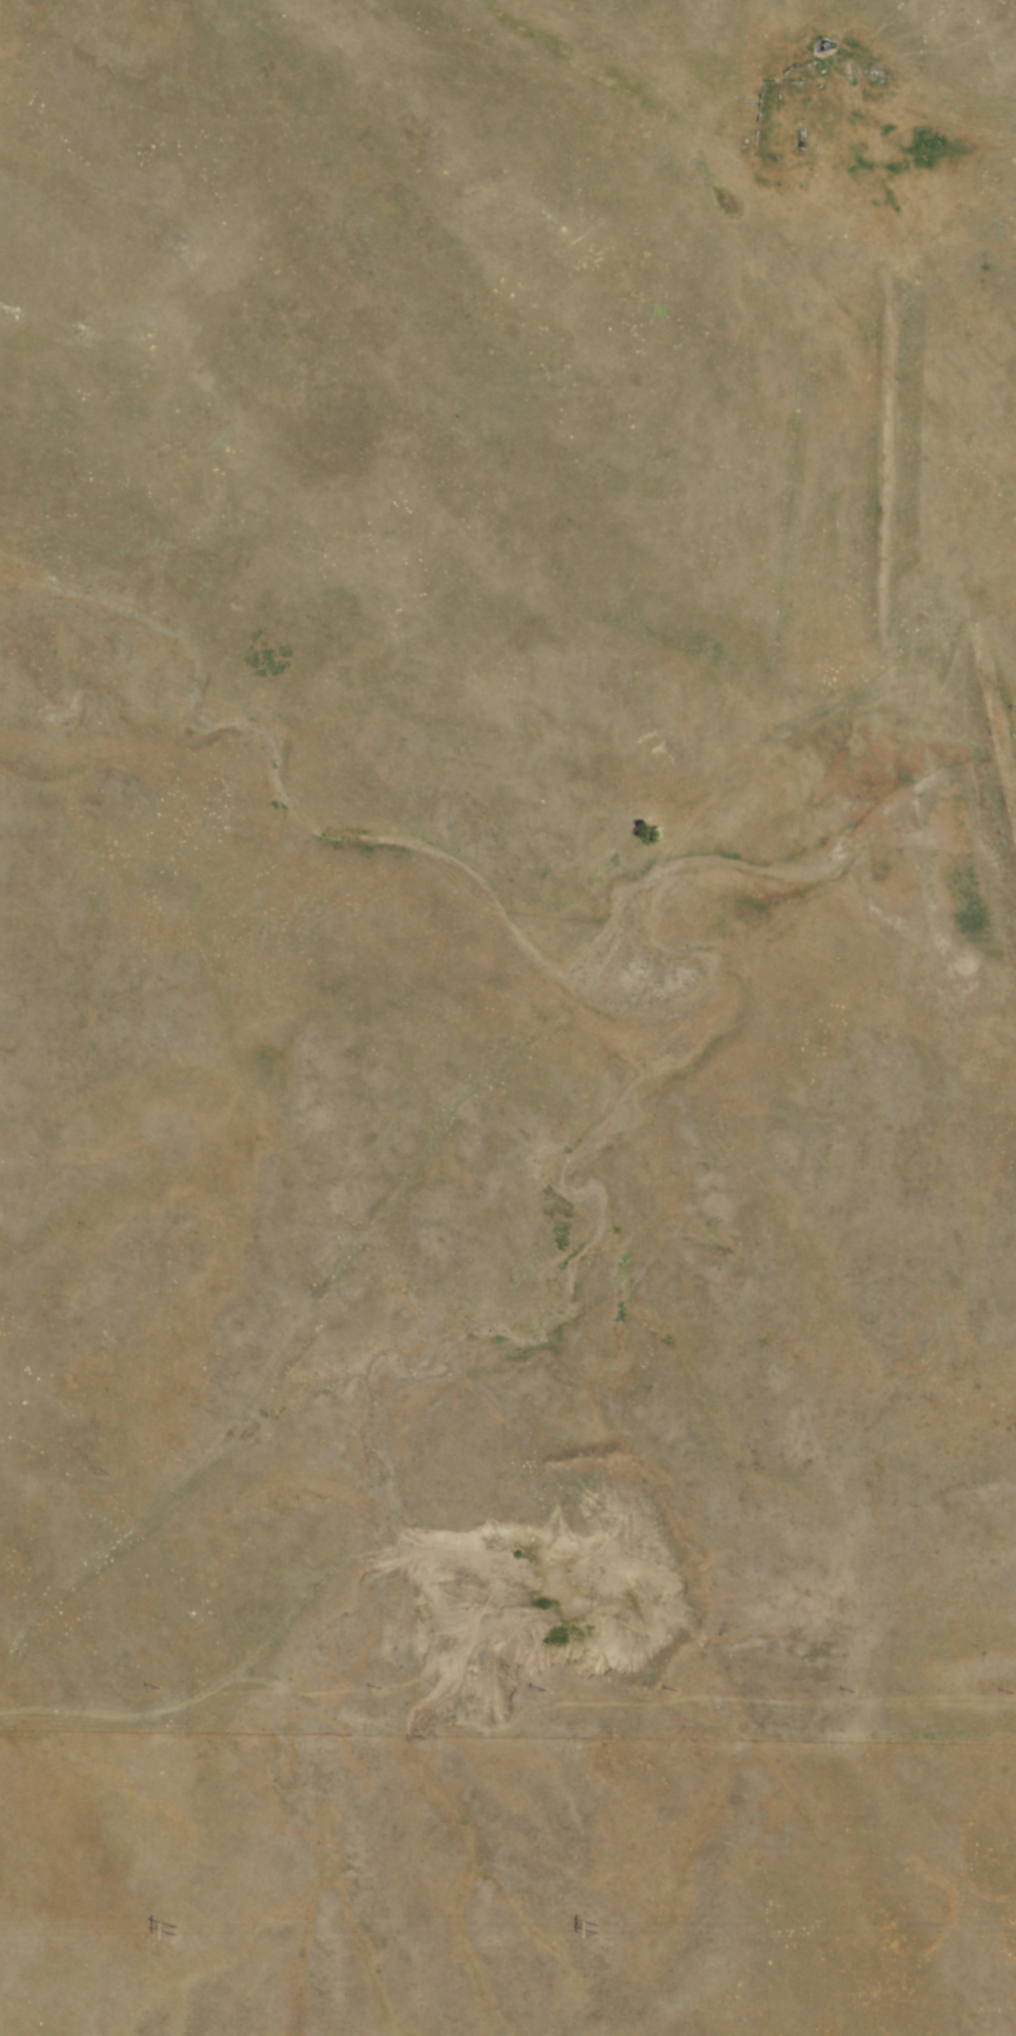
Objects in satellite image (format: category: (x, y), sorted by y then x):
dam: (995, 747)
power tower: (598, 1929)
power tower: (176, 1930)

